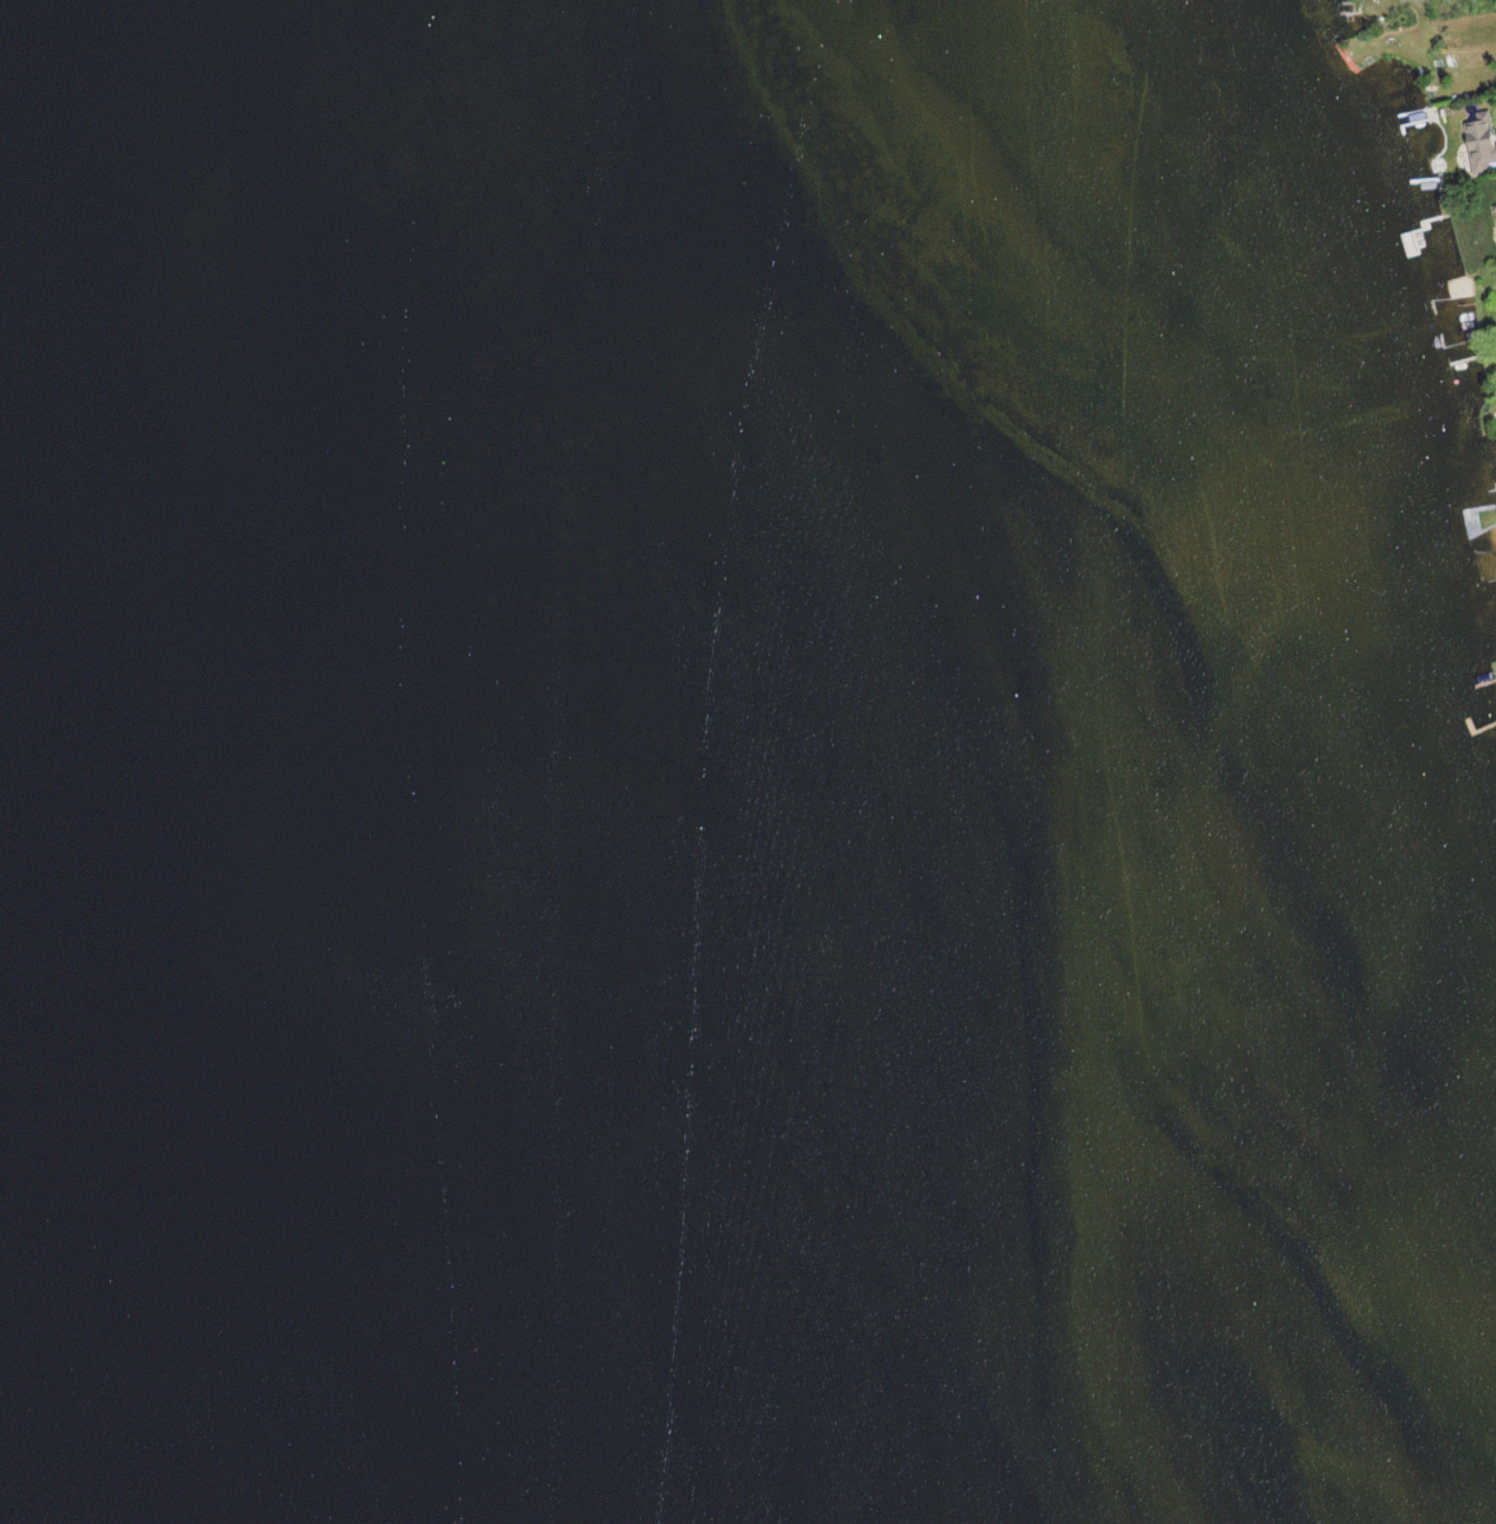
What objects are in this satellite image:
building: (1479, 141)
building: (1494, 210)

